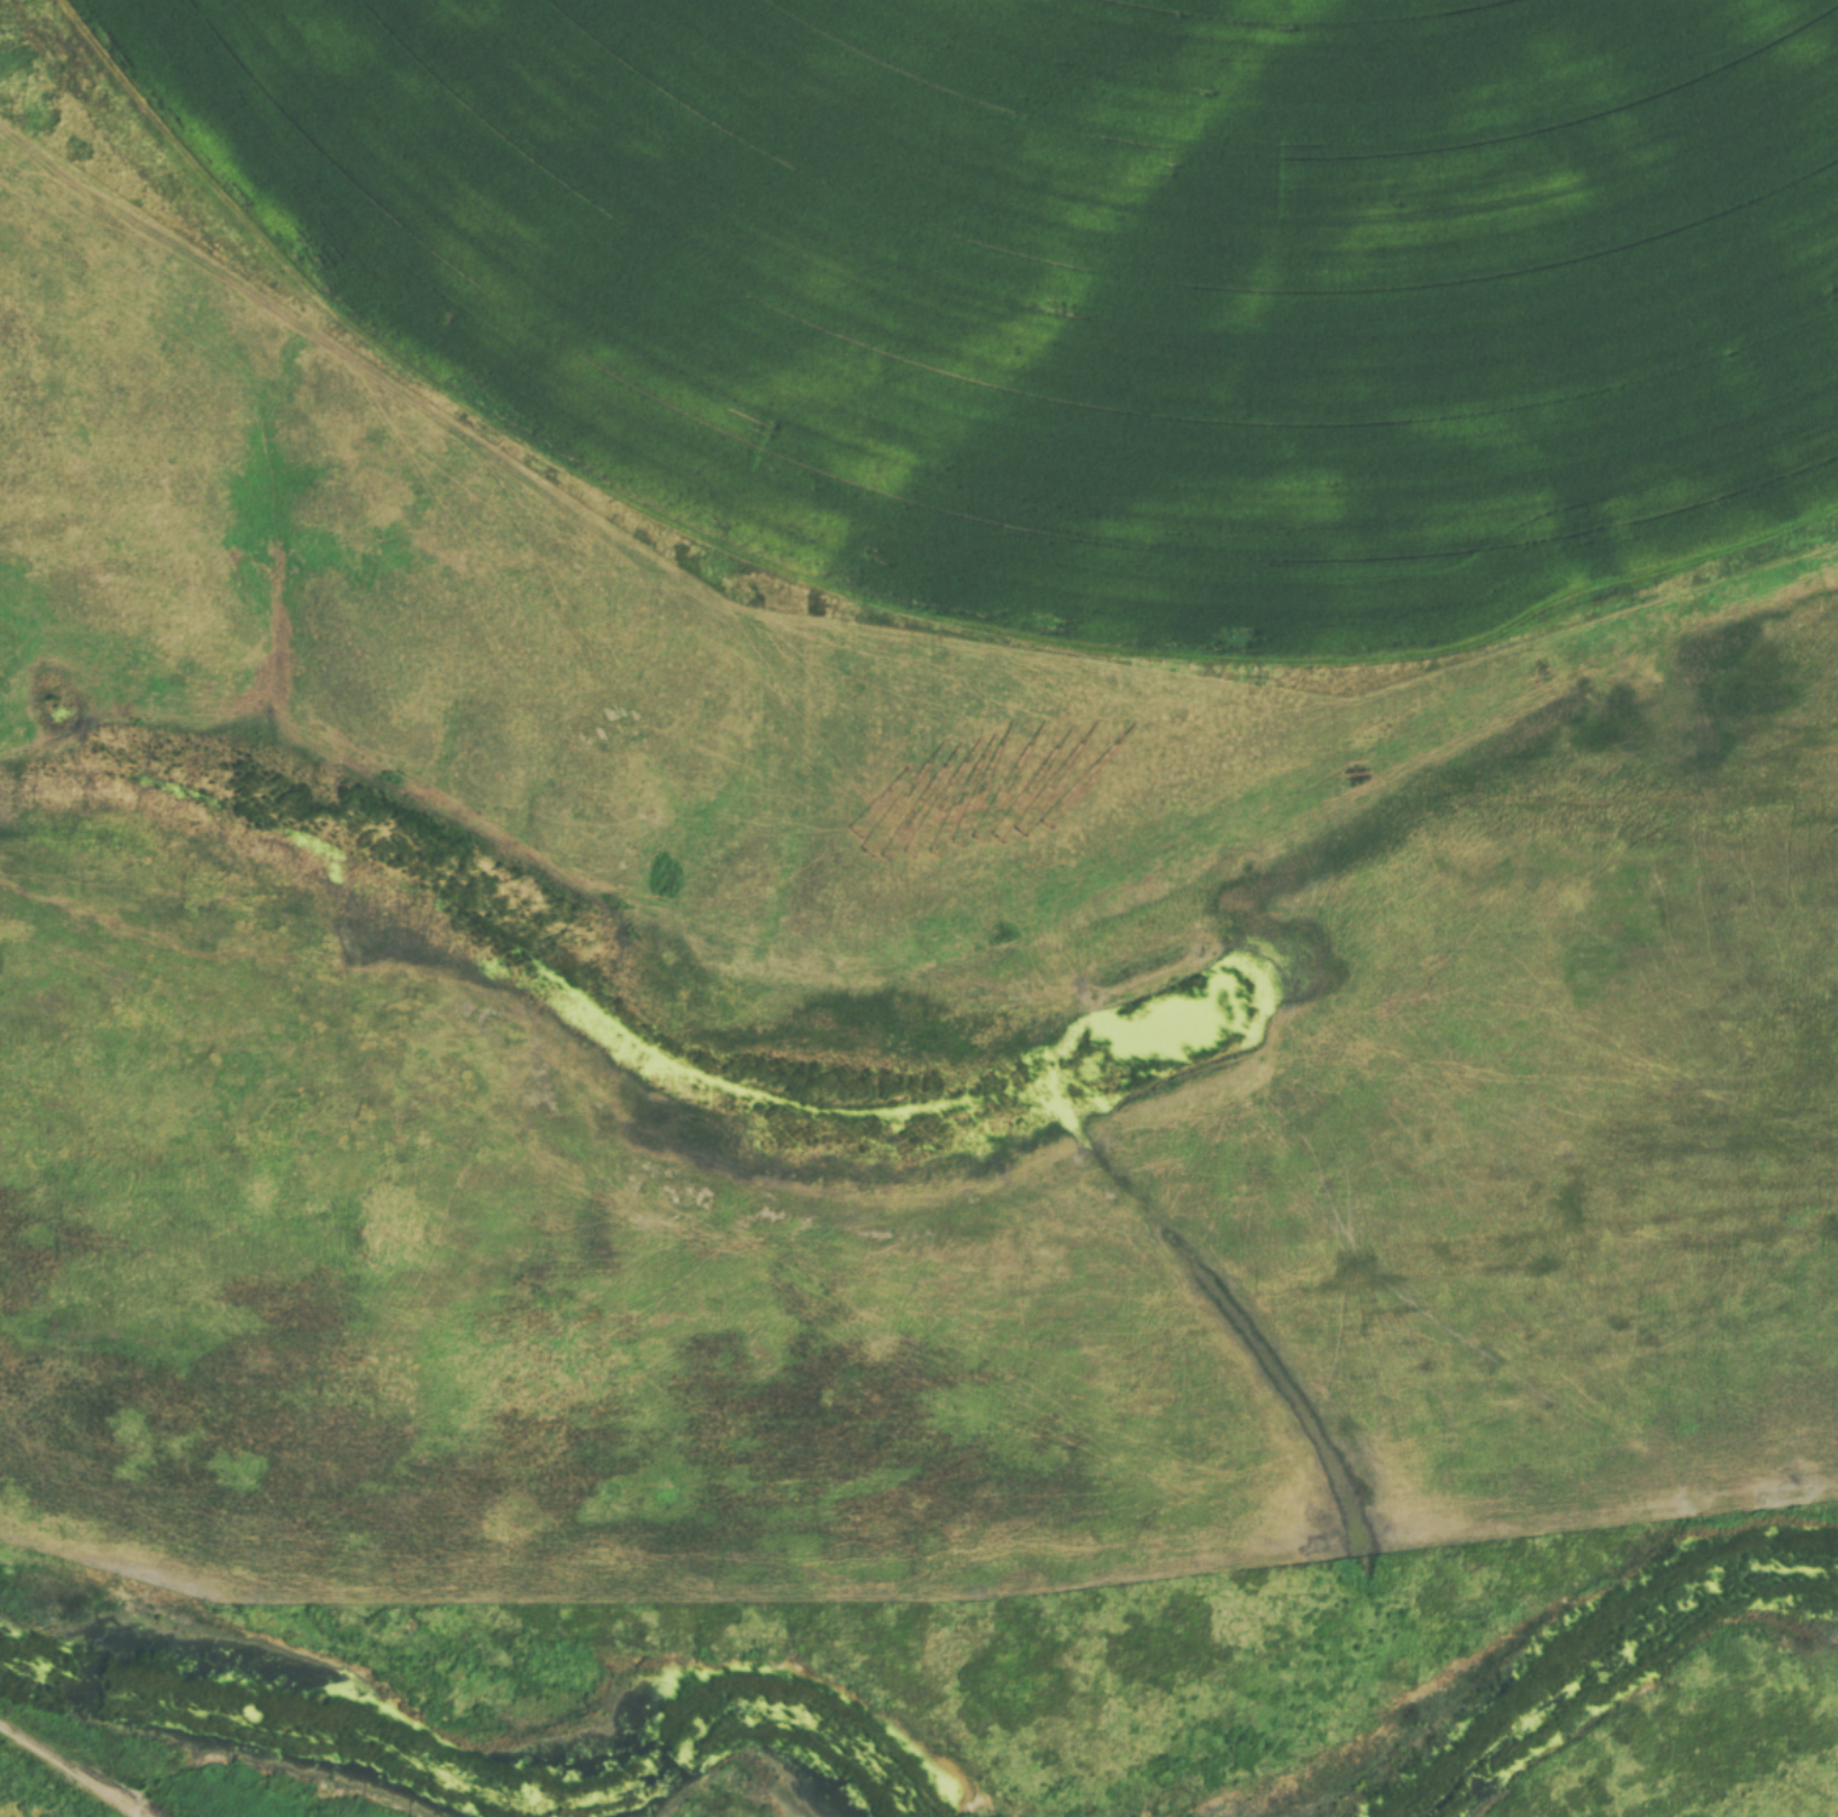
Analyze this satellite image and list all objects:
road: (71, 1770)

